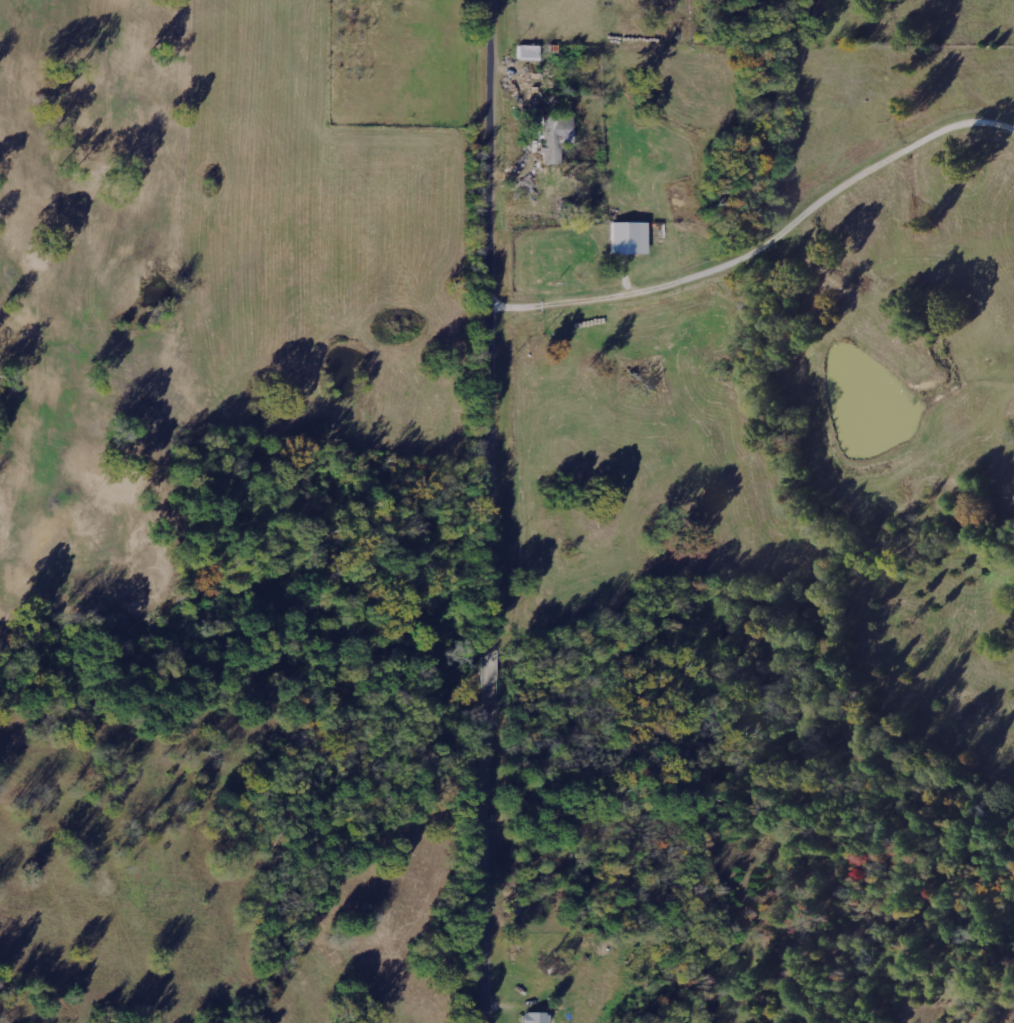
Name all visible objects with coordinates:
building: (528, 51)
building: (556, 136)
building: (629, 237)
road: (767, 241)
road: (497, 511)
building: (536, 1017)

